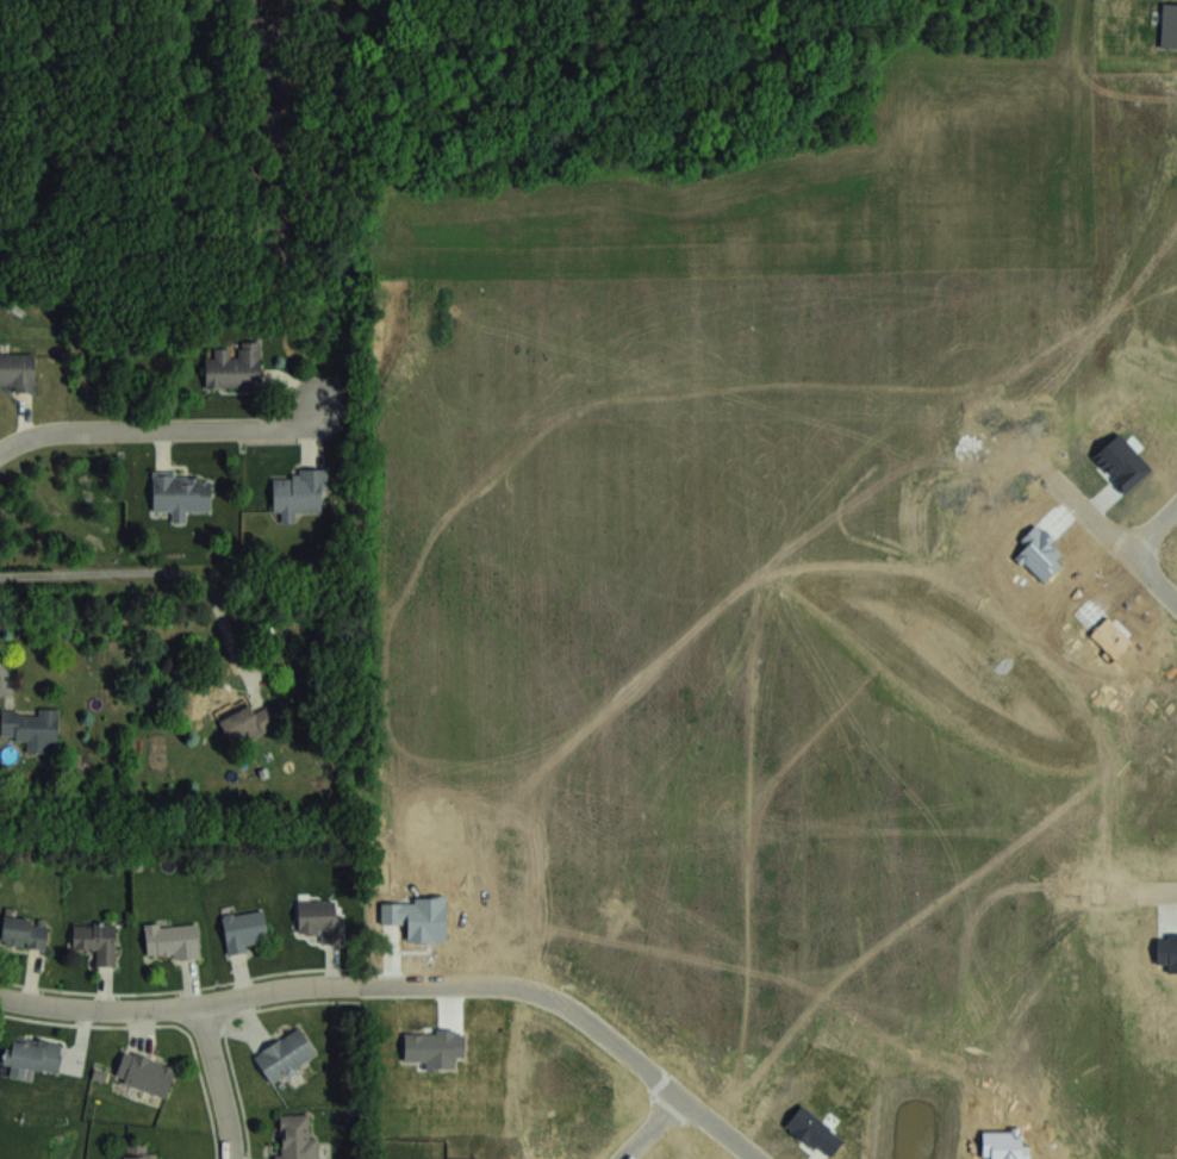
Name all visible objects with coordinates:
building: (233, 367)
building: (17, 370)
road: (162, 430)
building: (297, 494)
building: (180, 496)
road: (1092, 510)
road: (1156, 530)
road: (160, 568)
road: (1156, 573)
road: (6, 678)
building: (245, 722)
building: (31, 727)
road: (1116, 889)
building: (319, 918)
building: (244, 929)
building: (24, 930)
building: (172, 940)
building: (96, 941)
road: (178, 1007)
road: (583, 1010)
building: (32, 1053)
building: (285, 1054)
building: (144, 1072)
road: (219, 1082)
road: (652, 1126)
building: (297, 1138)
building: (137, 1151)

